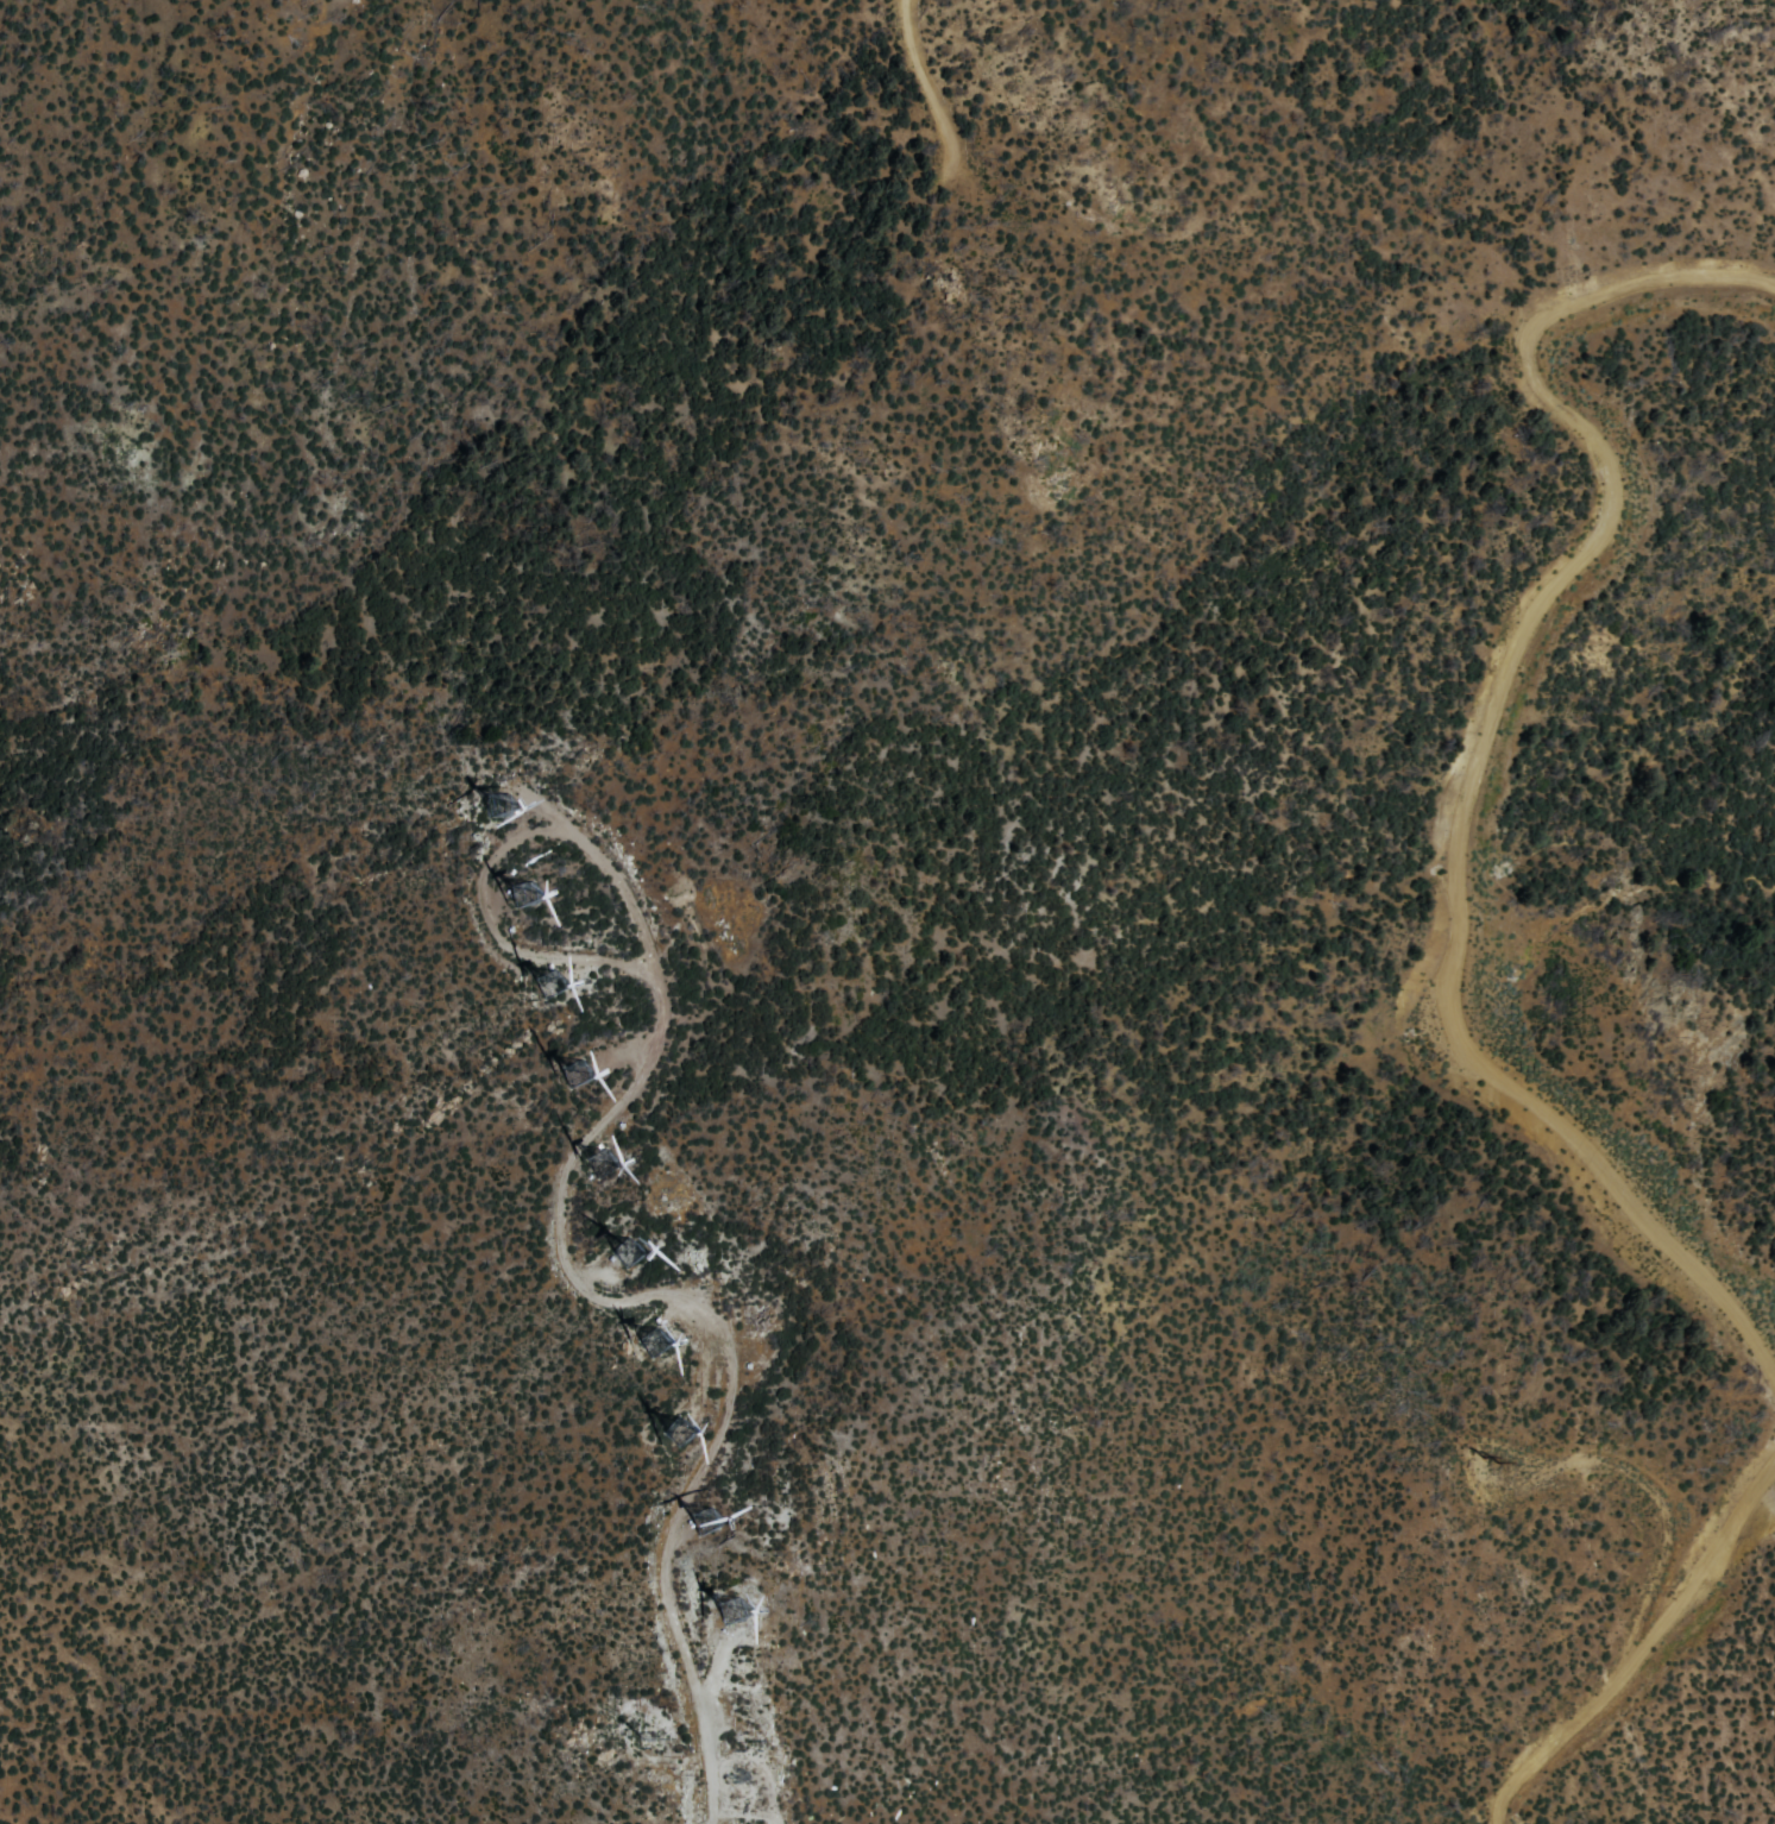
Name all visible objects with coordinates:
wind turbine: (498, 801)
wind turbine: (522, 888)
wind turbine: (553, 982)
wind turbine: (577, 1070)
wind turbine: (603, 1159)
wind turbine: (629, 1253)
road: (666, 1292)
wind turbine: (652, 1342)
wind turbine: (682, 1433)
wind turbine: (710, 1524)
wind turbine: (732, 1609)
road: (1560, 1737)
wind turbine: (736, 1793)

